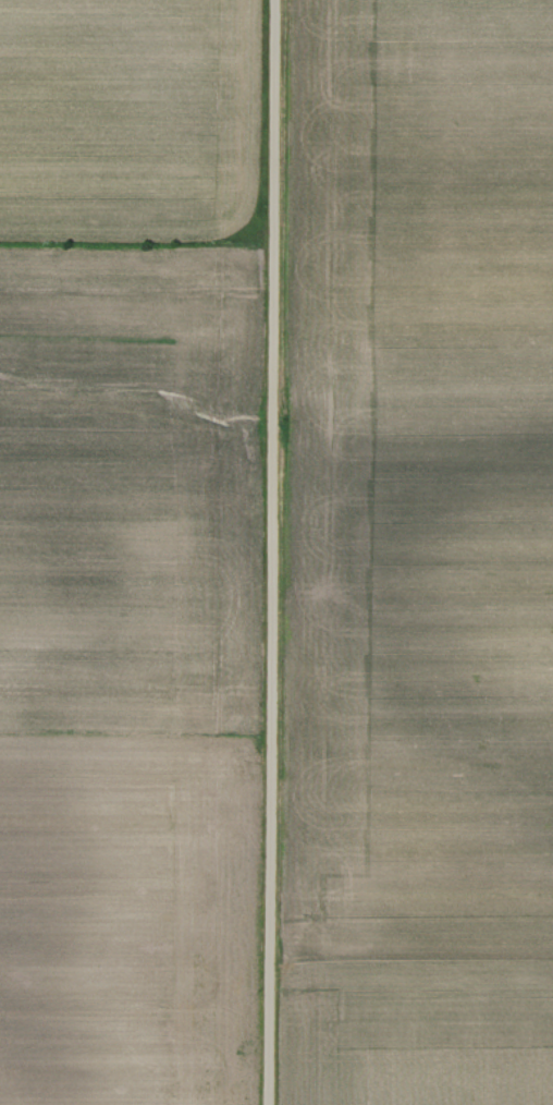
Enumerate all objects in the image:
road: (273, 552)

